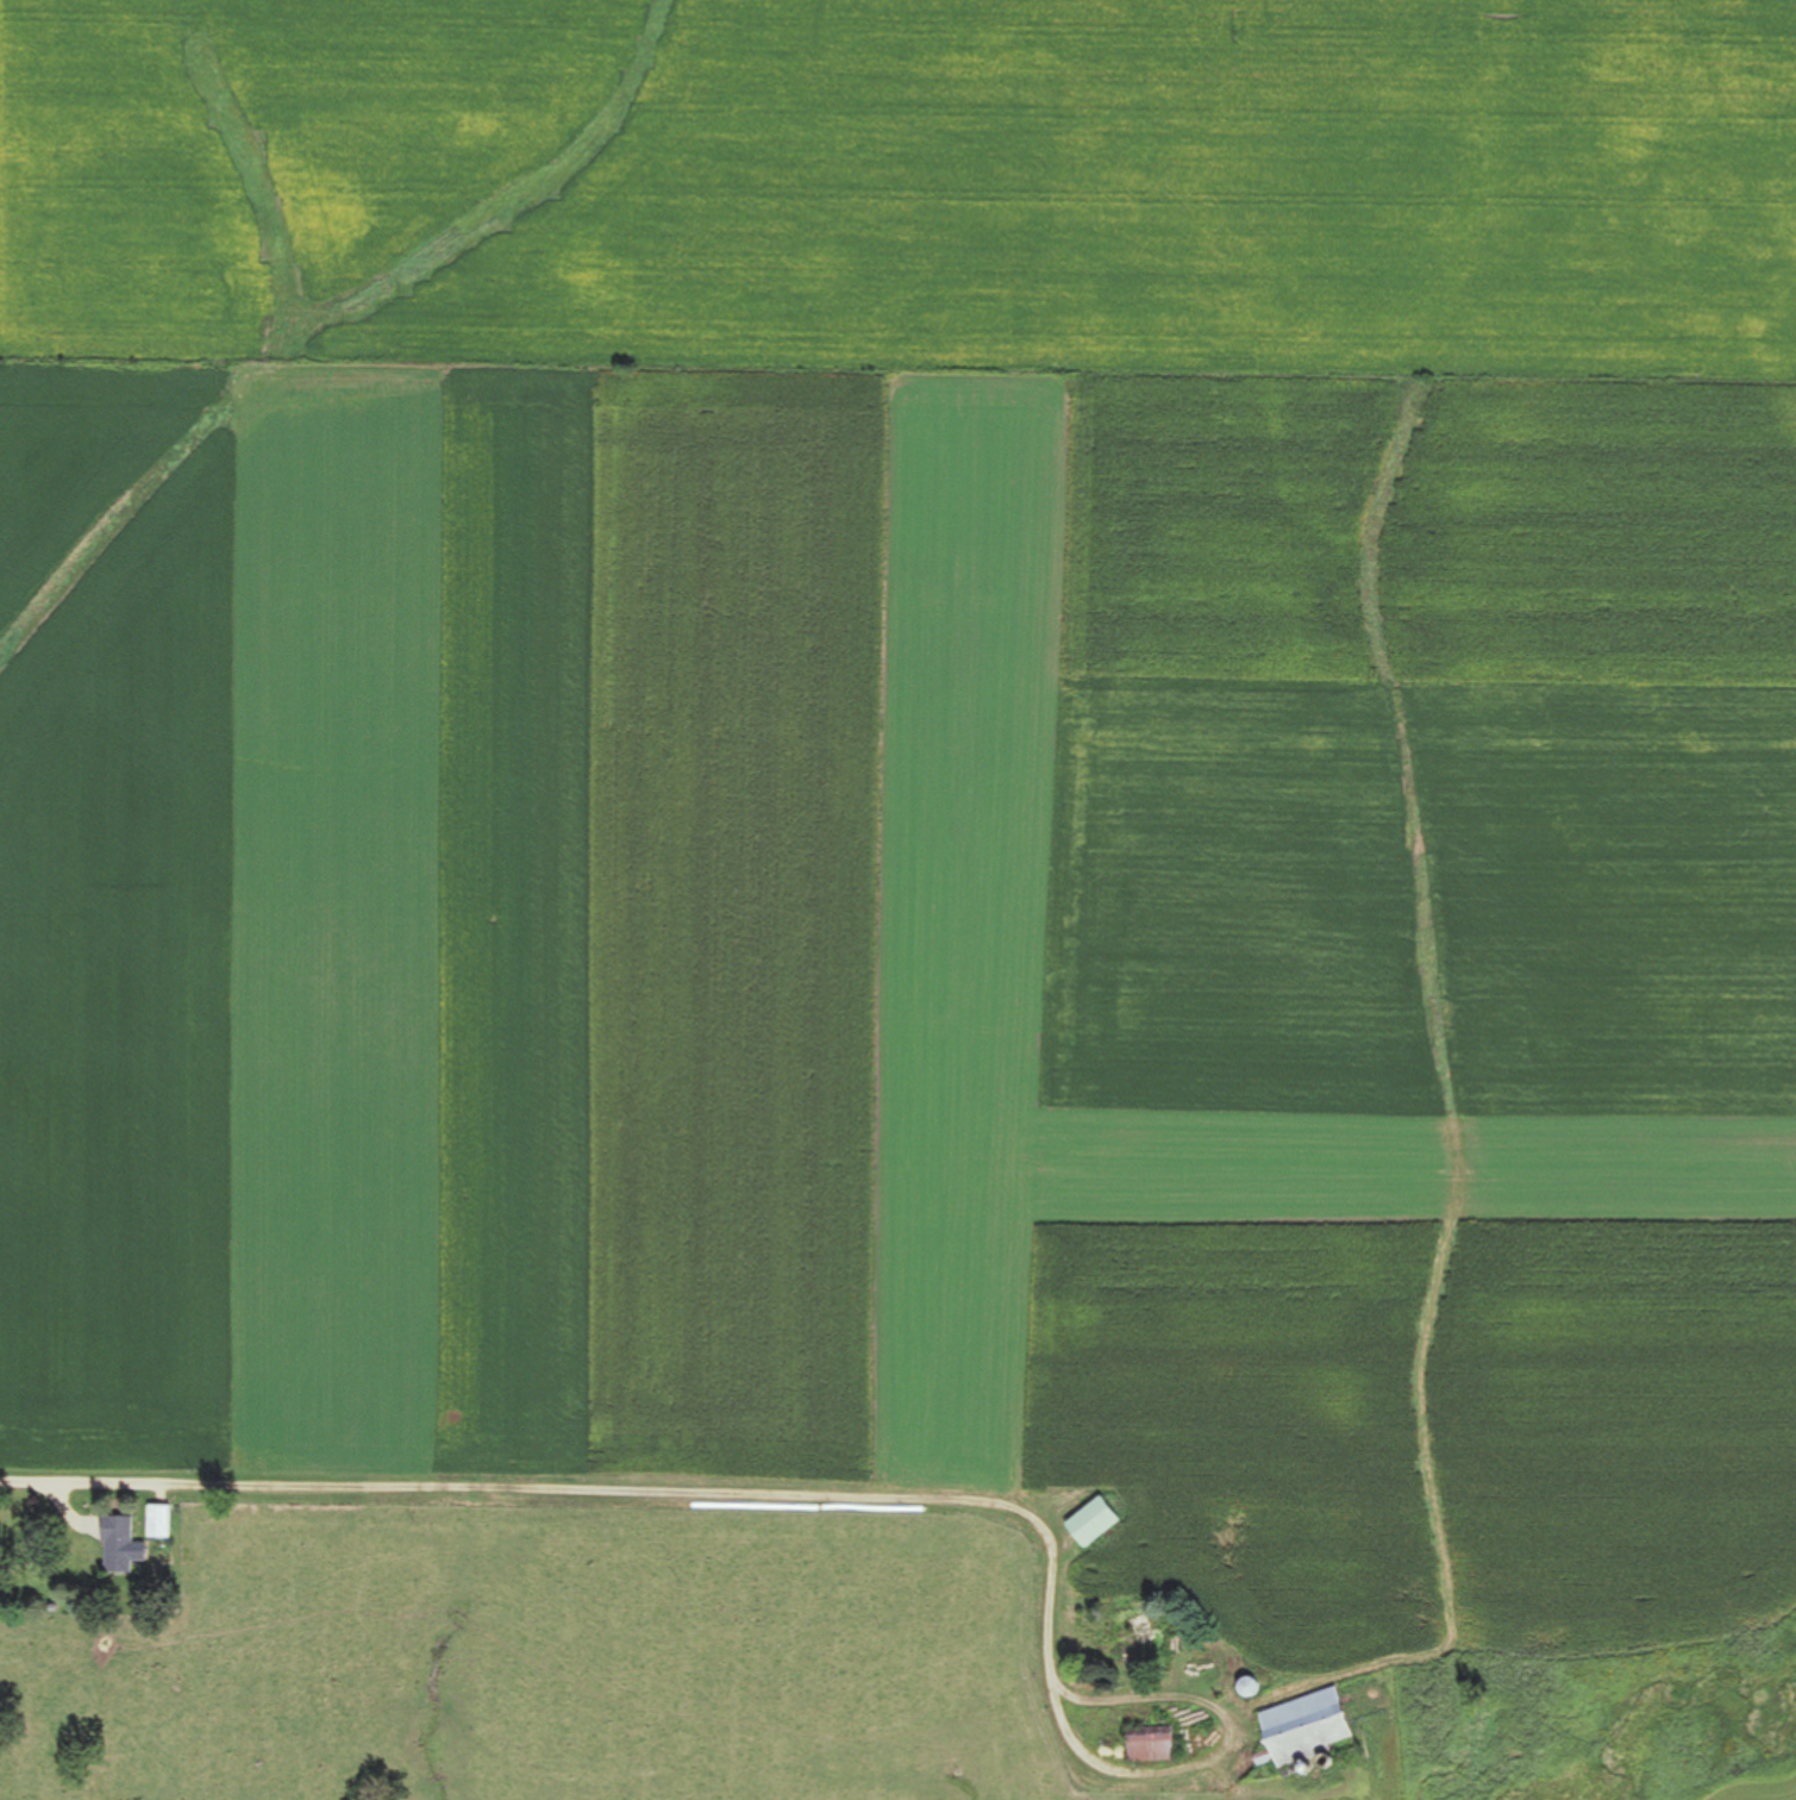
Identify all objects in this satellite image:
road: (570, 1512)
building: (157, 1523)
building: (1088, 1523)
building: (114, 1545)
building: (1135, 1630)
building: (1244, 1687)
building: (1301, 1735)
building: (1146, 1744)

